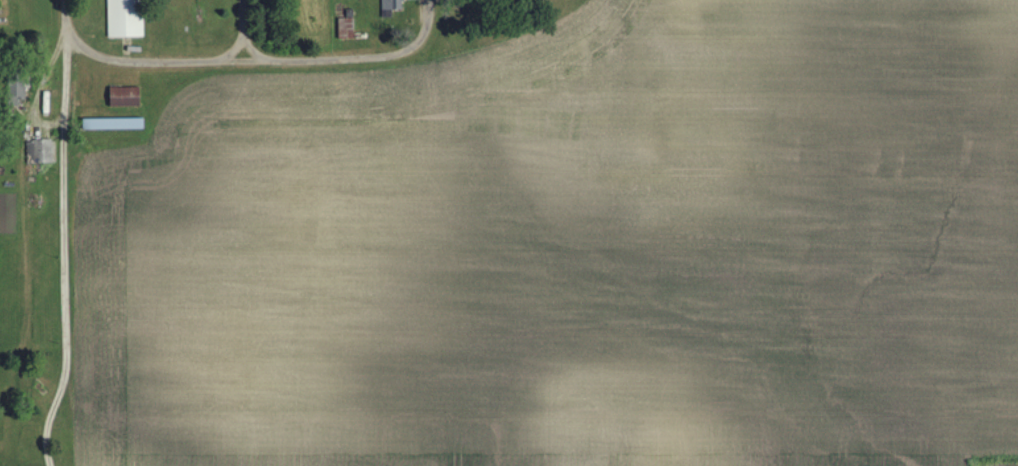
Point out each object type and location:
building: (390, 7)
building: (123, 19)
road: (65, 22)
road: (426, 24)
building: (345, 29)
road: (244, 30)
road: (241, 61)
building: (15, 91)
building: (122, 97)
building: (112, 124)
building: (41, 152)
road: (60, 249)

